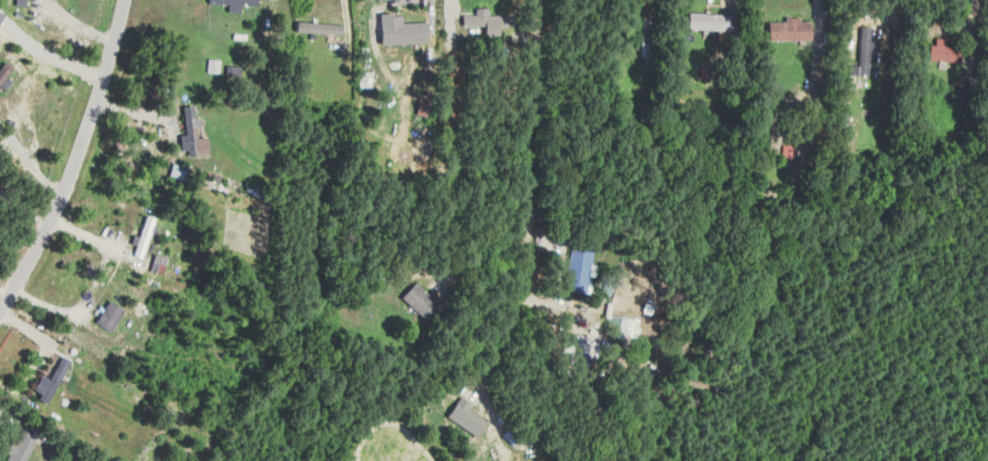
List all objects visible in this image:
building: (234, 1)
building: (487, 21)
building: (710, 21)
road: (79, 24)
building: (319, 27)
building: (790, 29)
road: (819, 35)
building: (645, 38)
building: (944, 51)
building: (864, 52)
building: (365, 79)
building: (424, 106)
building: (193, 134)
road: (530, 146)
road: (80, 161)
building: (177, 172)
road: (485, 253)
building: (579, 269)
building: (421, 301)
building: (110, 315)
building: (621, 327)
road: (499, 339)
building: (580, 344)
building: (41, 383)
building: (469, 415)
building: (20, 445)

